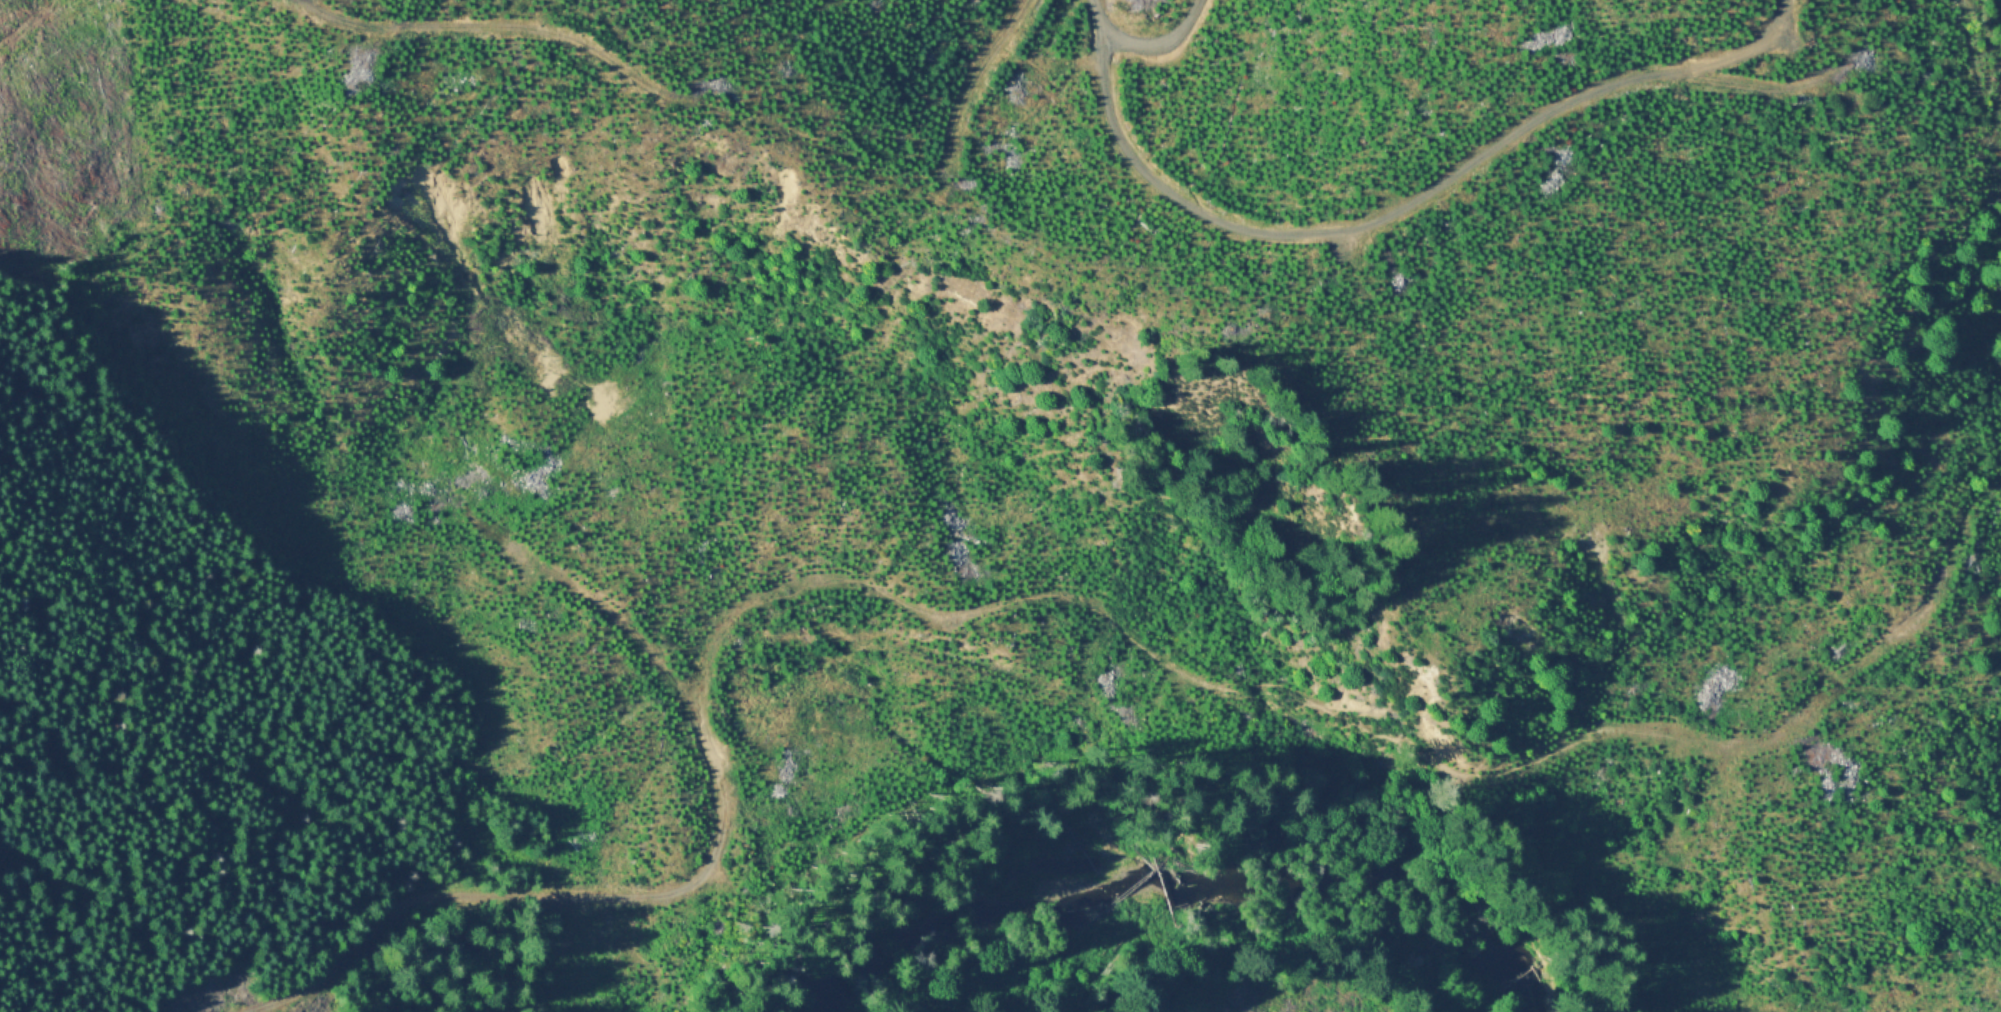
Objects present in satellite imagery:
road: (489, 26)
road: (995, 47)
road: (1412, 195)
river: (1176, 868)
road: (500, 894)

